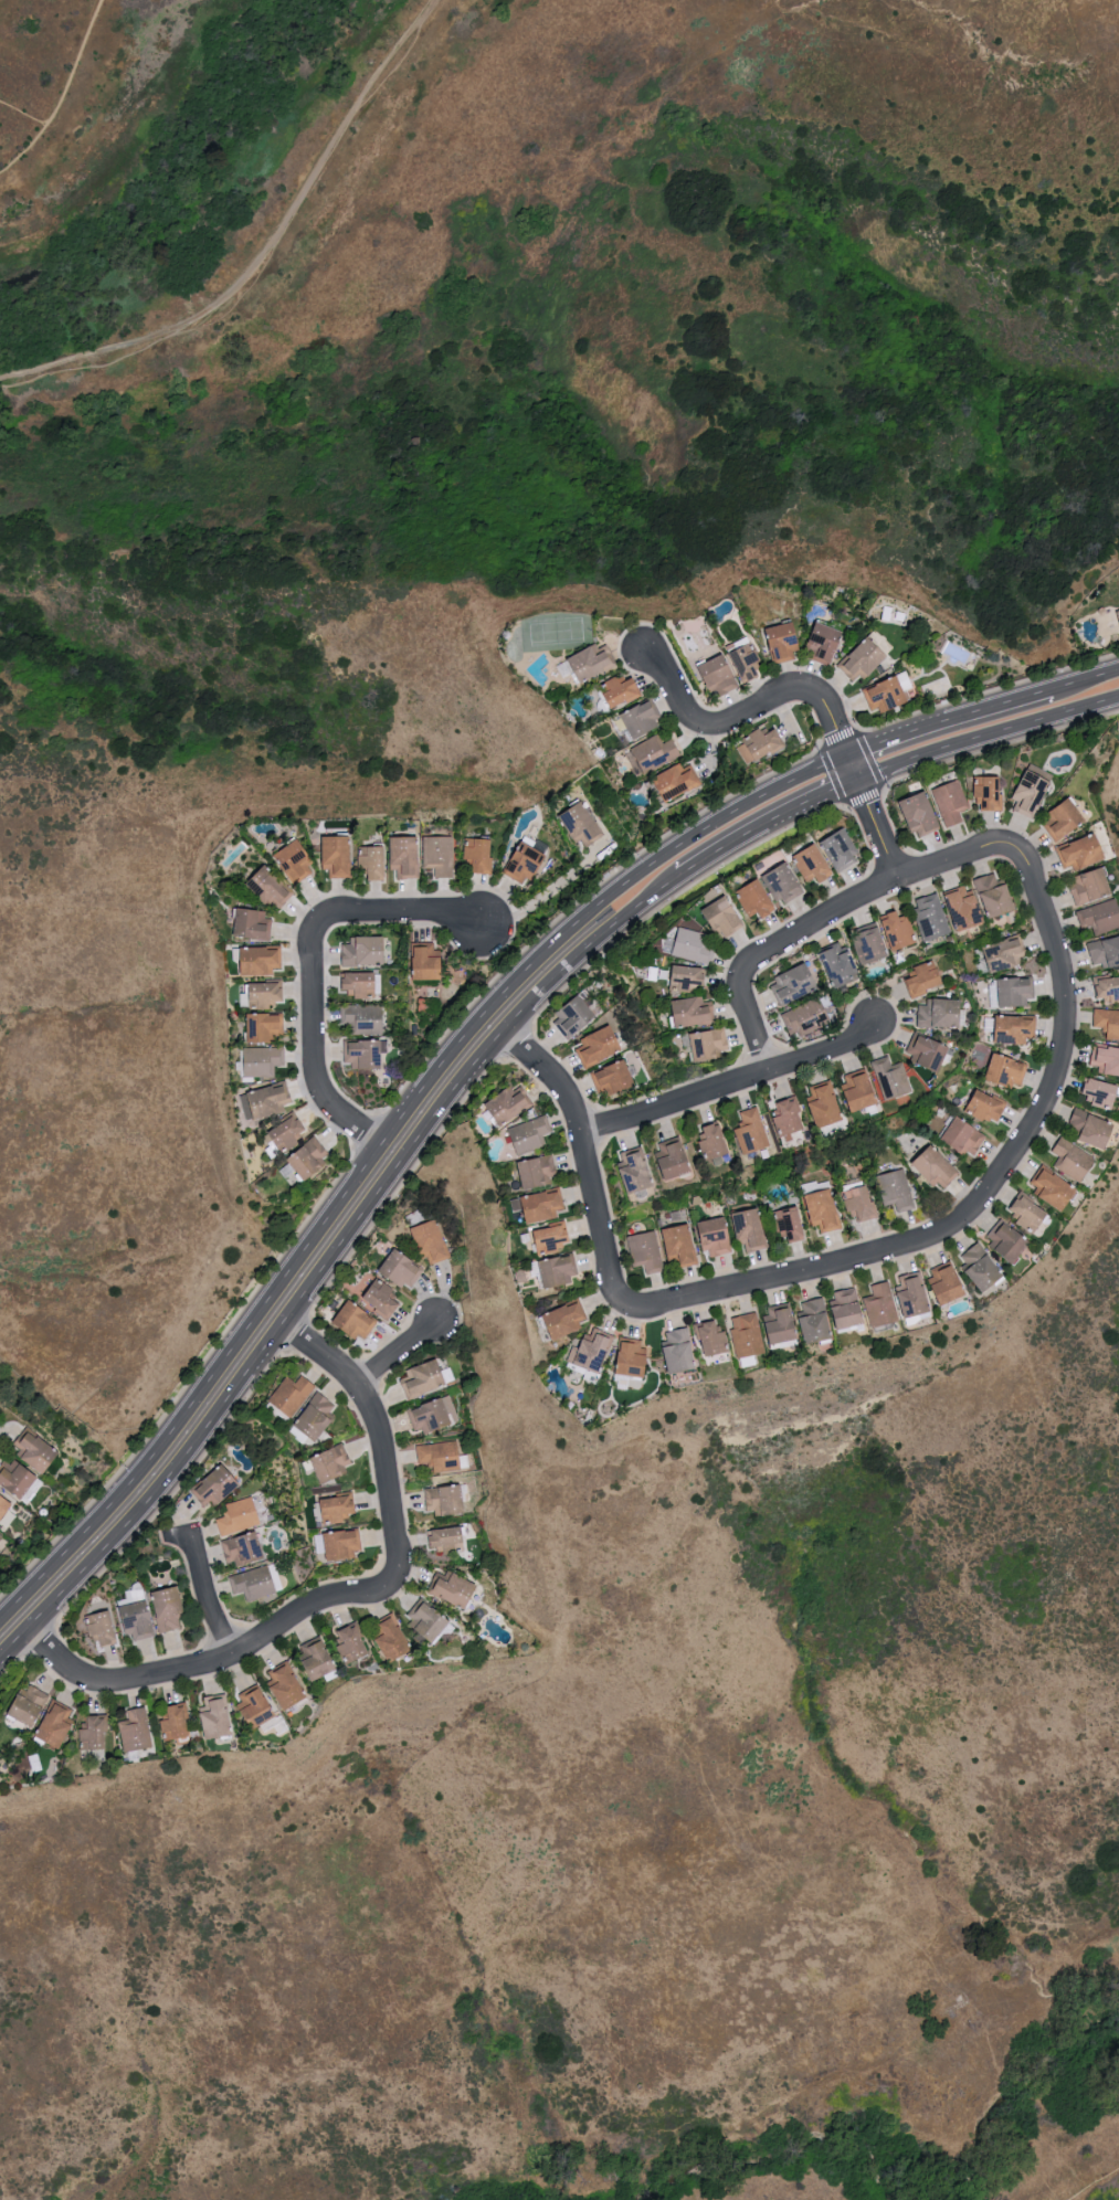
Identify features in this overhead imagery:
road: (62, 92)
road: (23, 112)
road: (266, 248)
building: (1118, 613)
building: (785, 639)
building: (826, 643)
building: (863, 658)
building: (748, 660)
building: (589, 662)
building: (720, 674)
road: (1084, 676)
building: (623, 690)
road: (807, 692)
building: (887, 694)
road: (946, 716)
building: (644, 718)
building: (622, 723)
road: (988, 737)
building: (761, 745)
building: (657, 751)
traffic signals: (846, 751)
traffic signals: (858, 780)
building: (679, 782)
building: (989, 791)
building: (1032, 791)
building: (951, 802)
building: (922, 813)
building: (1065, 819)
building: (582, 824)
road: (763, 825)
building: (842, 848)
building: (1083, 850)
building: (481, 853)
building: (439, 854)
building: (338, 855)
building: (405, 856)
building: (297, 859)
building: (373, 860)
building: (527, 861)
building: (815, 863)
building: (785, 882)
building: (270, 885)
building: (1090, 886)
building: (997, 895)
road: (541, 896)
building: (758, 898)
building: (964, 907)
building: (726, 914)
road: (831, 914)
building: (932, 916)
building: (1100, 916)
building: (254, 923)
building: (900, 930)
building: (870, 942)
building: (694, 945)
building: (366, 950)
building: (1105, 951)
building: (1006, 953)
road: (313, 956)
building: (262, 960)
building: (430, 962)
building: (841, 964)
building: (689, 977)
building: (927, 977)
building: (360, 983)
building: (794, 984)
building: (1108, 988)
building: (1011, 992)
building: (263, 994)
building: (695, 1012)
building: (941, 1013)
building: (574, 1016)
building: (803, 1016)
building: (363, 1017)
building: (1108, 1022)
building: (265, 1027)
building: (1016, 1028)
building: (689, 1043)
building: (710, 1044)
building: (599, 1045)
building: (928, 1050)
building: (365, 1053)
building: (1105, 1058)
building: (263, 1060)
building: (1007, 1069)
building: (891, 1077)
road: (735, 1082)
building: (862, 1089)
building: (1102, 1091)
building: (265, 1101)
building: (510, 1103)
building: (826, 1103)
building: (988, 1107)
building: (790, 1114)
building: (1094, 1128)
building: (288, 1131)
building: (751, 1131)
building: (530, 1133)
building: (964, 1135)
road: (382, 1139)
building: (715, 1141)
building: (674, 1156)
building: (310, 1159)
road: (585, 1159)
building: (1074, 1160)
building: (937, 1167)
building: (636, 1170)
building: (539, 1171)
building: (1053, 1187)
building: (896, 1188)
road: (984, 1195)
building: (545, 1205)
building: (823, 1209)
building: (1028, 1212)
building: (791, 1223)
building: (751, 1229)
building: (717, 1236)
building: (552, 1237)
building: (1007, 1239)
building: (427, 1241)
building: (682, 1244)
building: (646, 1250)
road: (329, 1259)
building: (982, 1267)
building: (400, 1269)
building: (559, 1271)
building: (948, 1281)
building: (915, 1294)
building: (379, 1298)
building: (882, 1304)
building: (848, 1308)
building: (567, 1319)
building: (815, 1320)
building: (353, 1321)
building: (781, 1323)
building: (747, 1334)
building: (711, 1339)
building: (592, 1351)
building: (679, 1351)
road: (397, 1353)
building: (633, 1358)
building: (422, 1379)
building: (291, 1396)
building: (427, 1416)
building: (314, 1418)
road: (377, 1422)
building: (38, 1449)
building: (439, 1458)
building: (329, 1464)
building: (17, 1474)
building: (213, 1487)
building: (445, 1501)
building: (4, 1504)
building: (337, 1509)
building: (236, 1516)
building: (1, 1536)
building: (445, 1541)
building: (339, 1546)
building: (242, 1548)
building: (252, 1583)
building: (451, 1590)
road: (205, 1591)
building: (167, 1608)
building: (136, 1619)
building: (429, 1625)
building: (99, 1629)
building: (390, 1642)
building: (350, 1644)
road: (220, 1660)
building: (316, 1660)
building: (286, 1688)
building: (255, 1706)
building: (27, 1707)
building: (218, 1720)
building: (175, 1724)
building: (55, 1726)
building: (136, 1733)
building: (93, 1734)
road: (1095, 2186)

